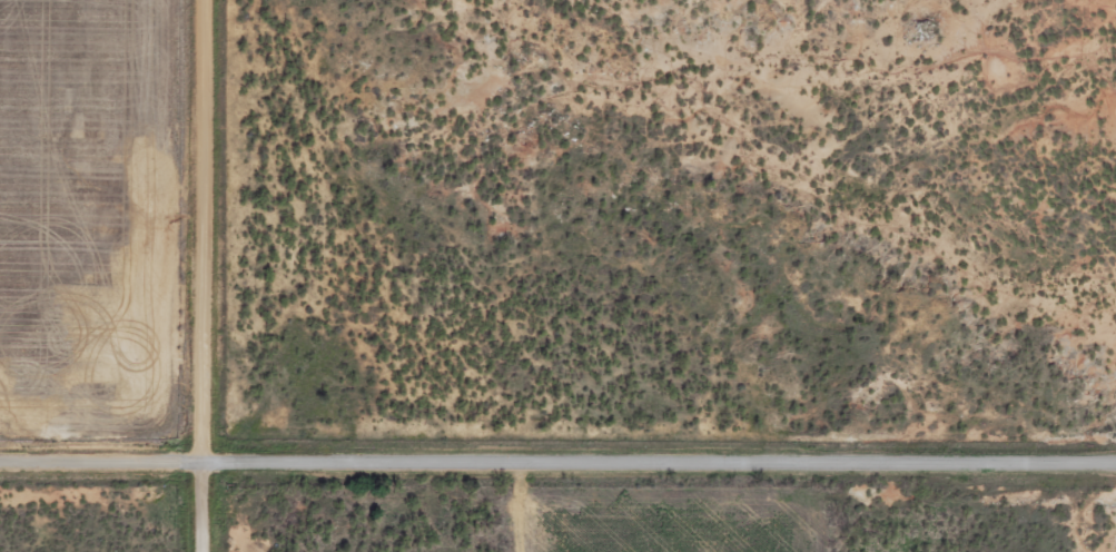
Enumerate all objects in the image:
road: (210, 276)
road: (557, 463)

